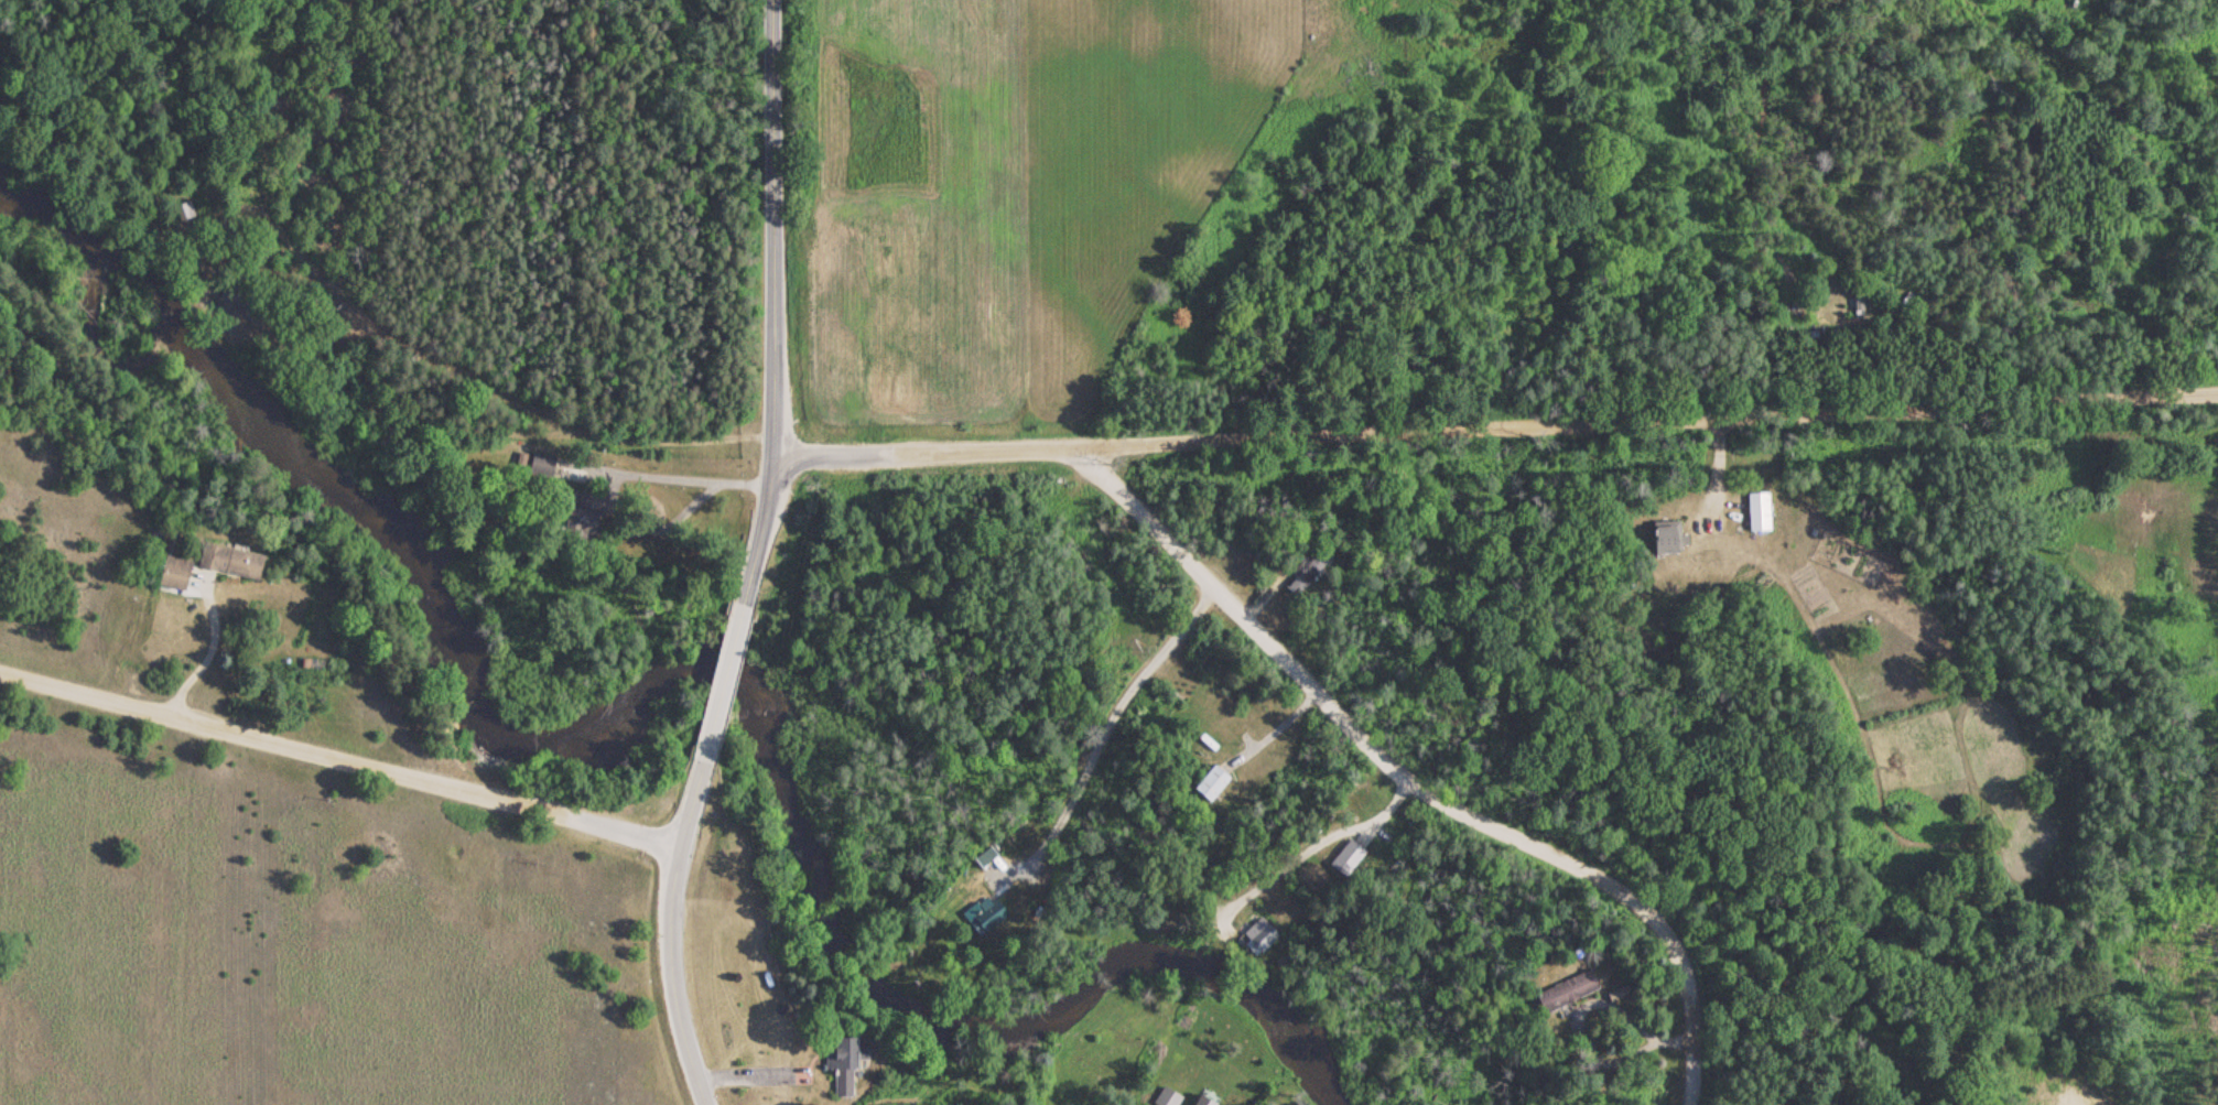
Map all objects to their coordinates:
road: (385, 57)
road: (2141, 182)
building: (224, 302)
road: (776, 303)
road: (1498, 414)
building: (1755, 511)
building: (1663, 539)
building: (228, 561)
building: (173, 572)
building: (1301, 573)
river: (679, 670)
road: (720, 681)
road: (338, 755)
road: (1415, 780)
building: (1209, 782)
road: (688, 802)
building: (1395, 844)
building: (1344, 858)
building: (985, 916)
building: (1256, 934)
road: (672, 976)
building: (1565, 990)
building: (840, 1064)
building: (1164, 1097)
building: (1203, 1098)

